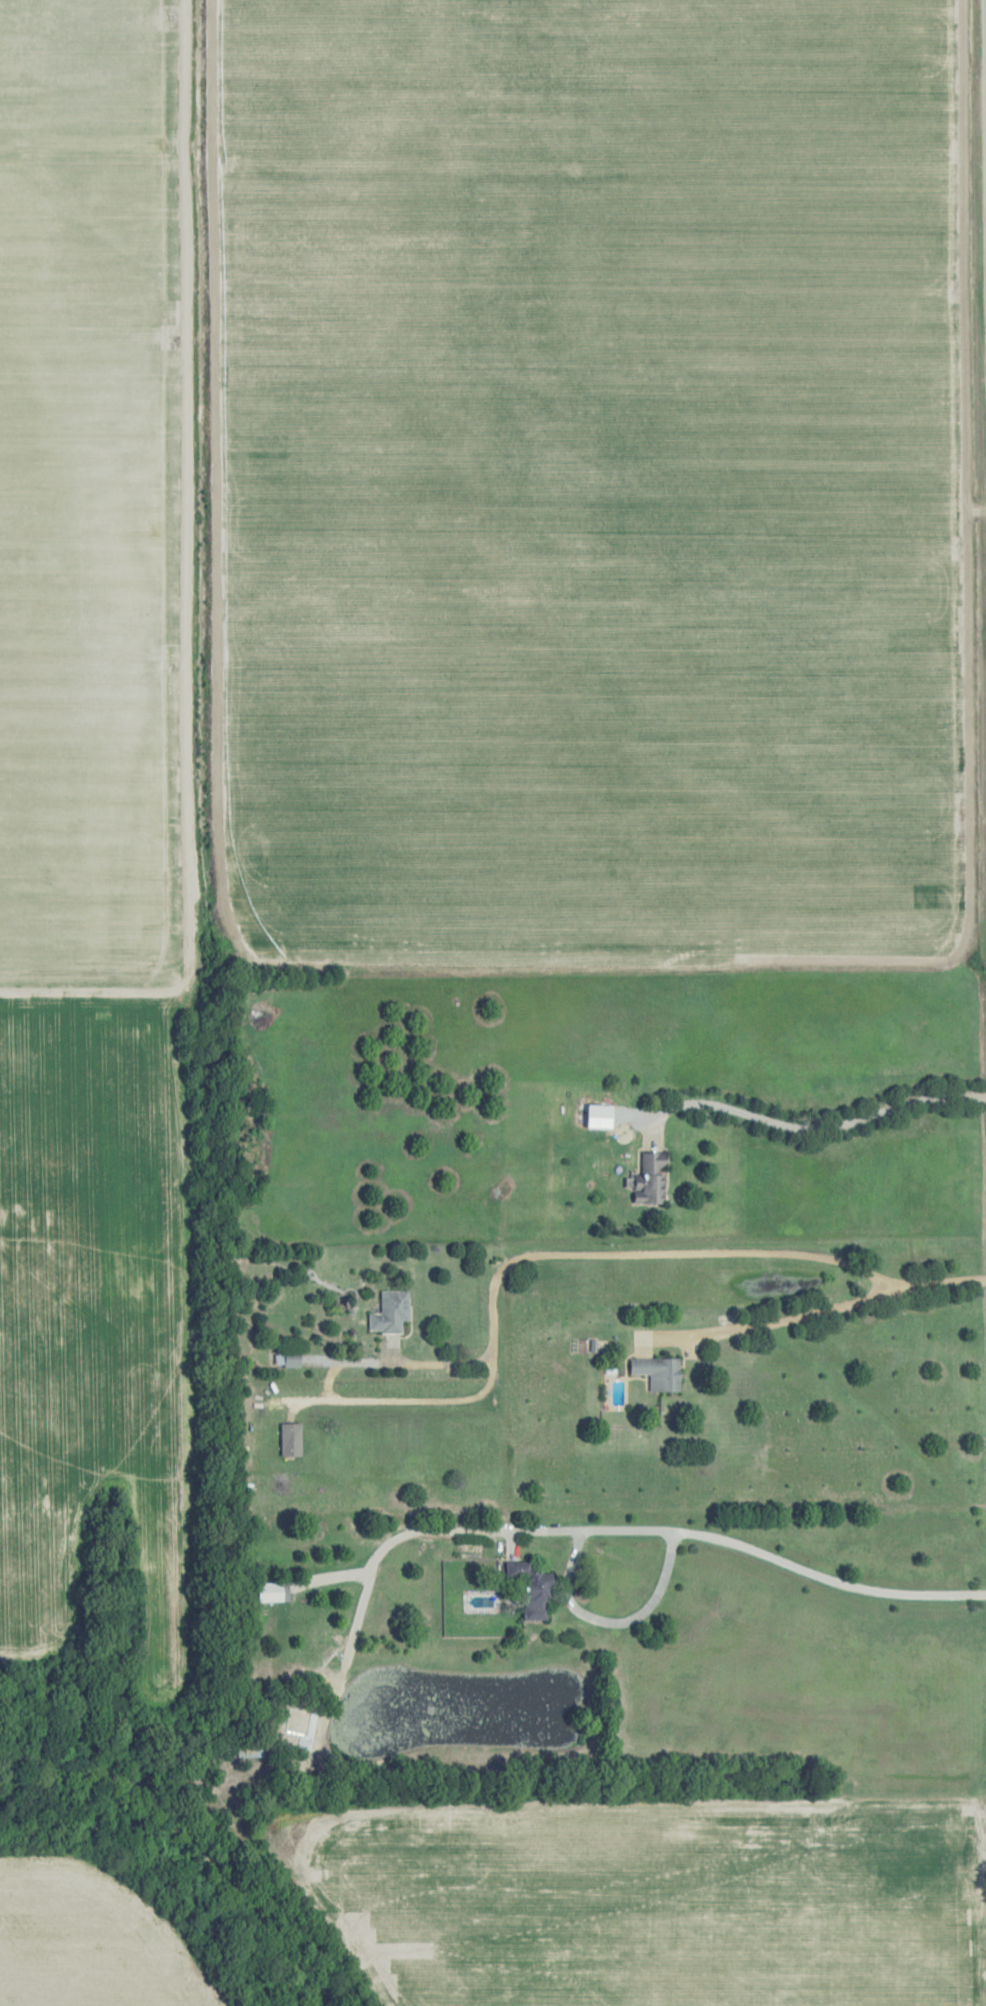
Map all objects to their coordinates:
building: (598, 1116)
road: (810, 1125)
building: (649, 1180)
road: (548, 1255)
building: (390, 1312)
road: (808, 1315)
building: (286, 1360)
building: (659, 1371)
building: (290, 1440)
road: (741, 1546)
building: (531, 1589)
building: (269, 1593)
road: (611, 1623)
building: (250, 1749)

